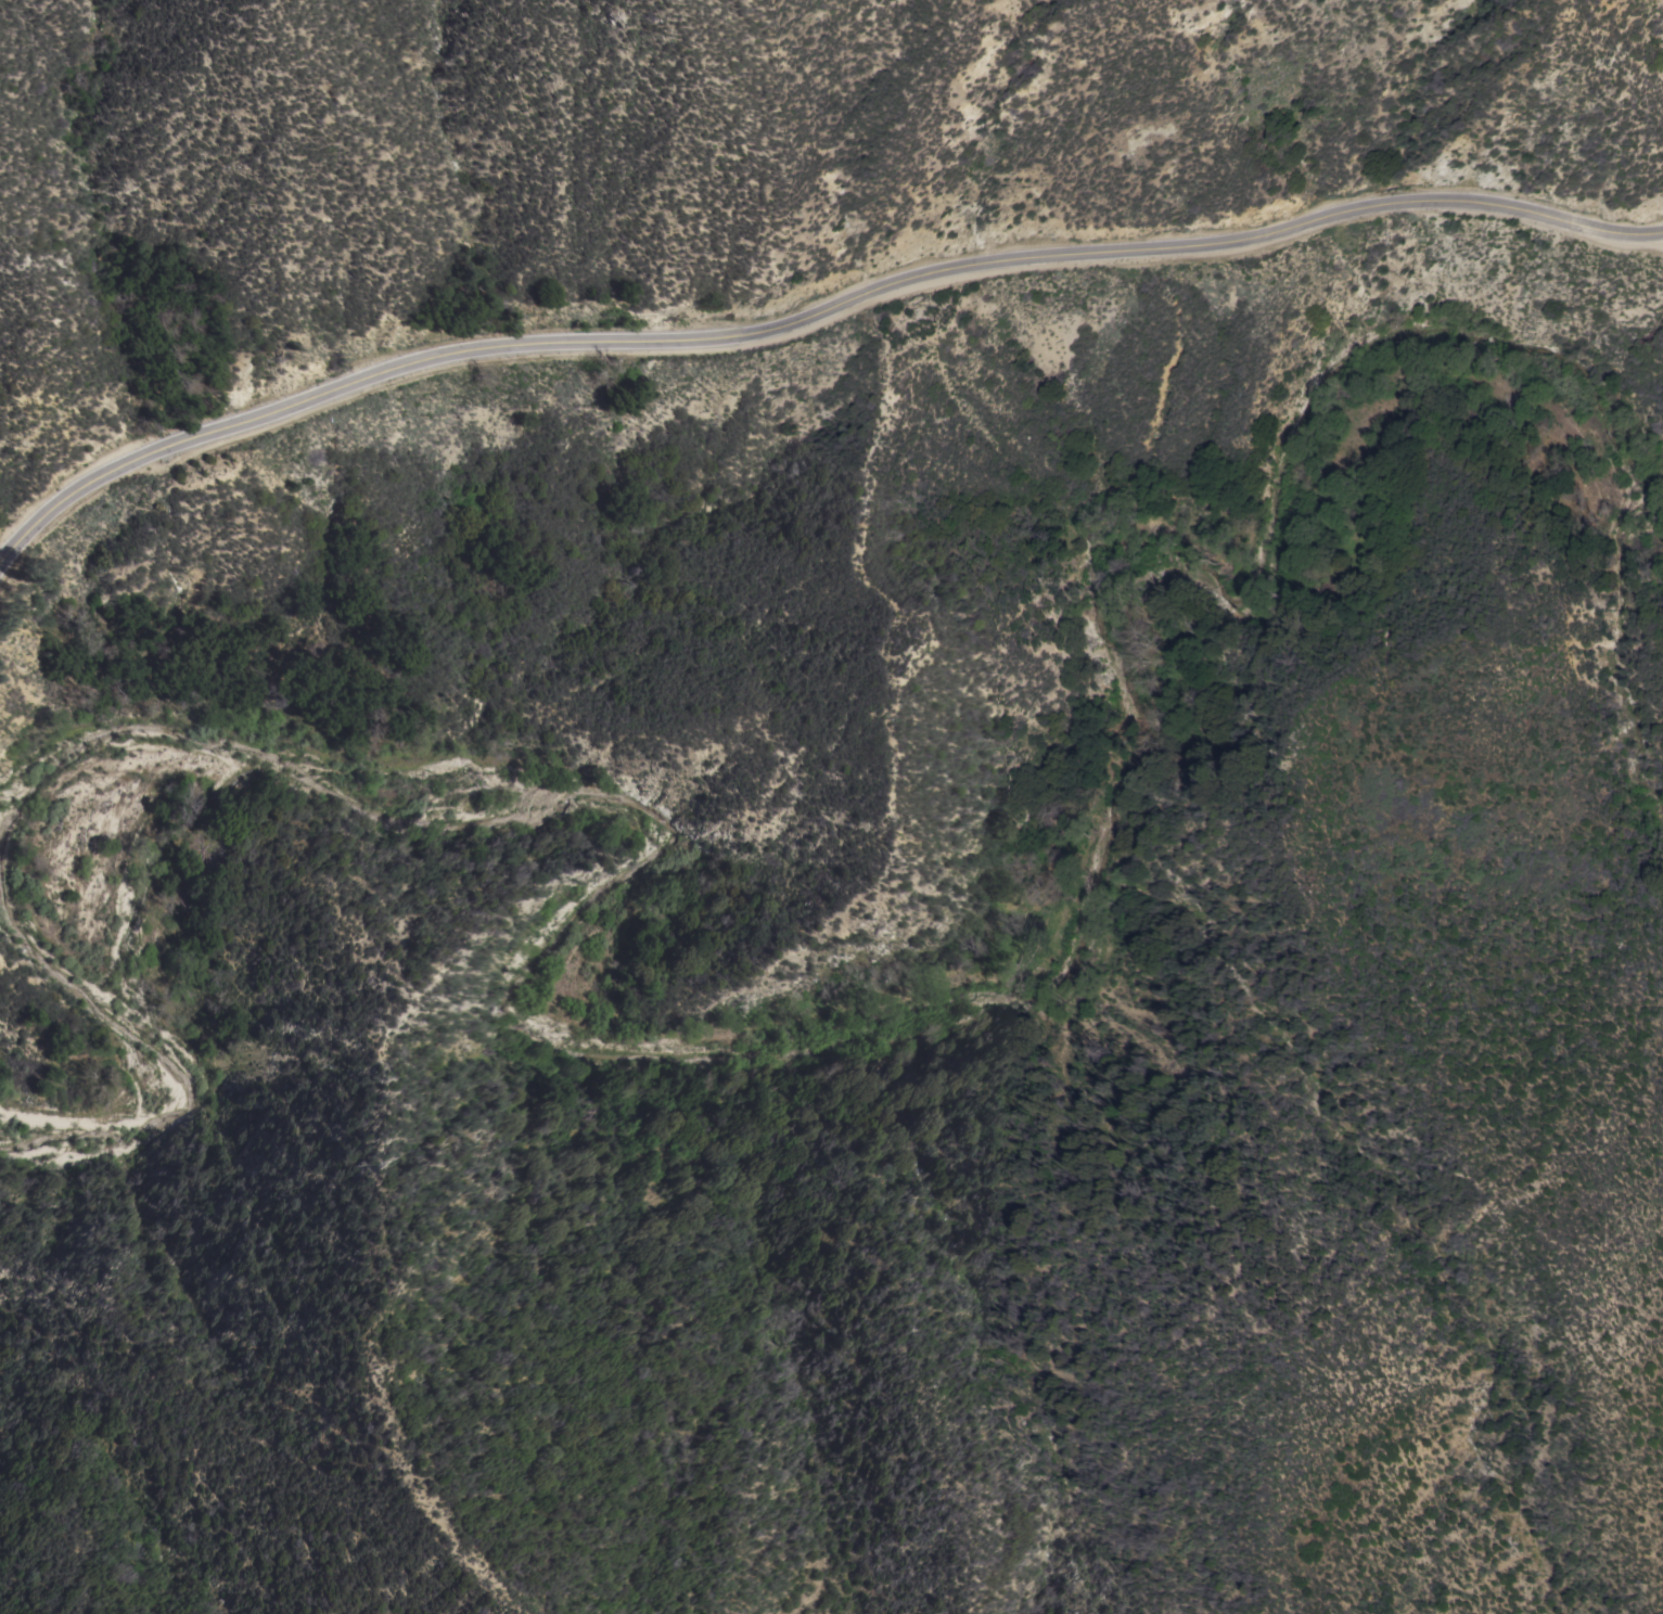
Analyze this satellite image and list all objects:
road: (802, 316)

